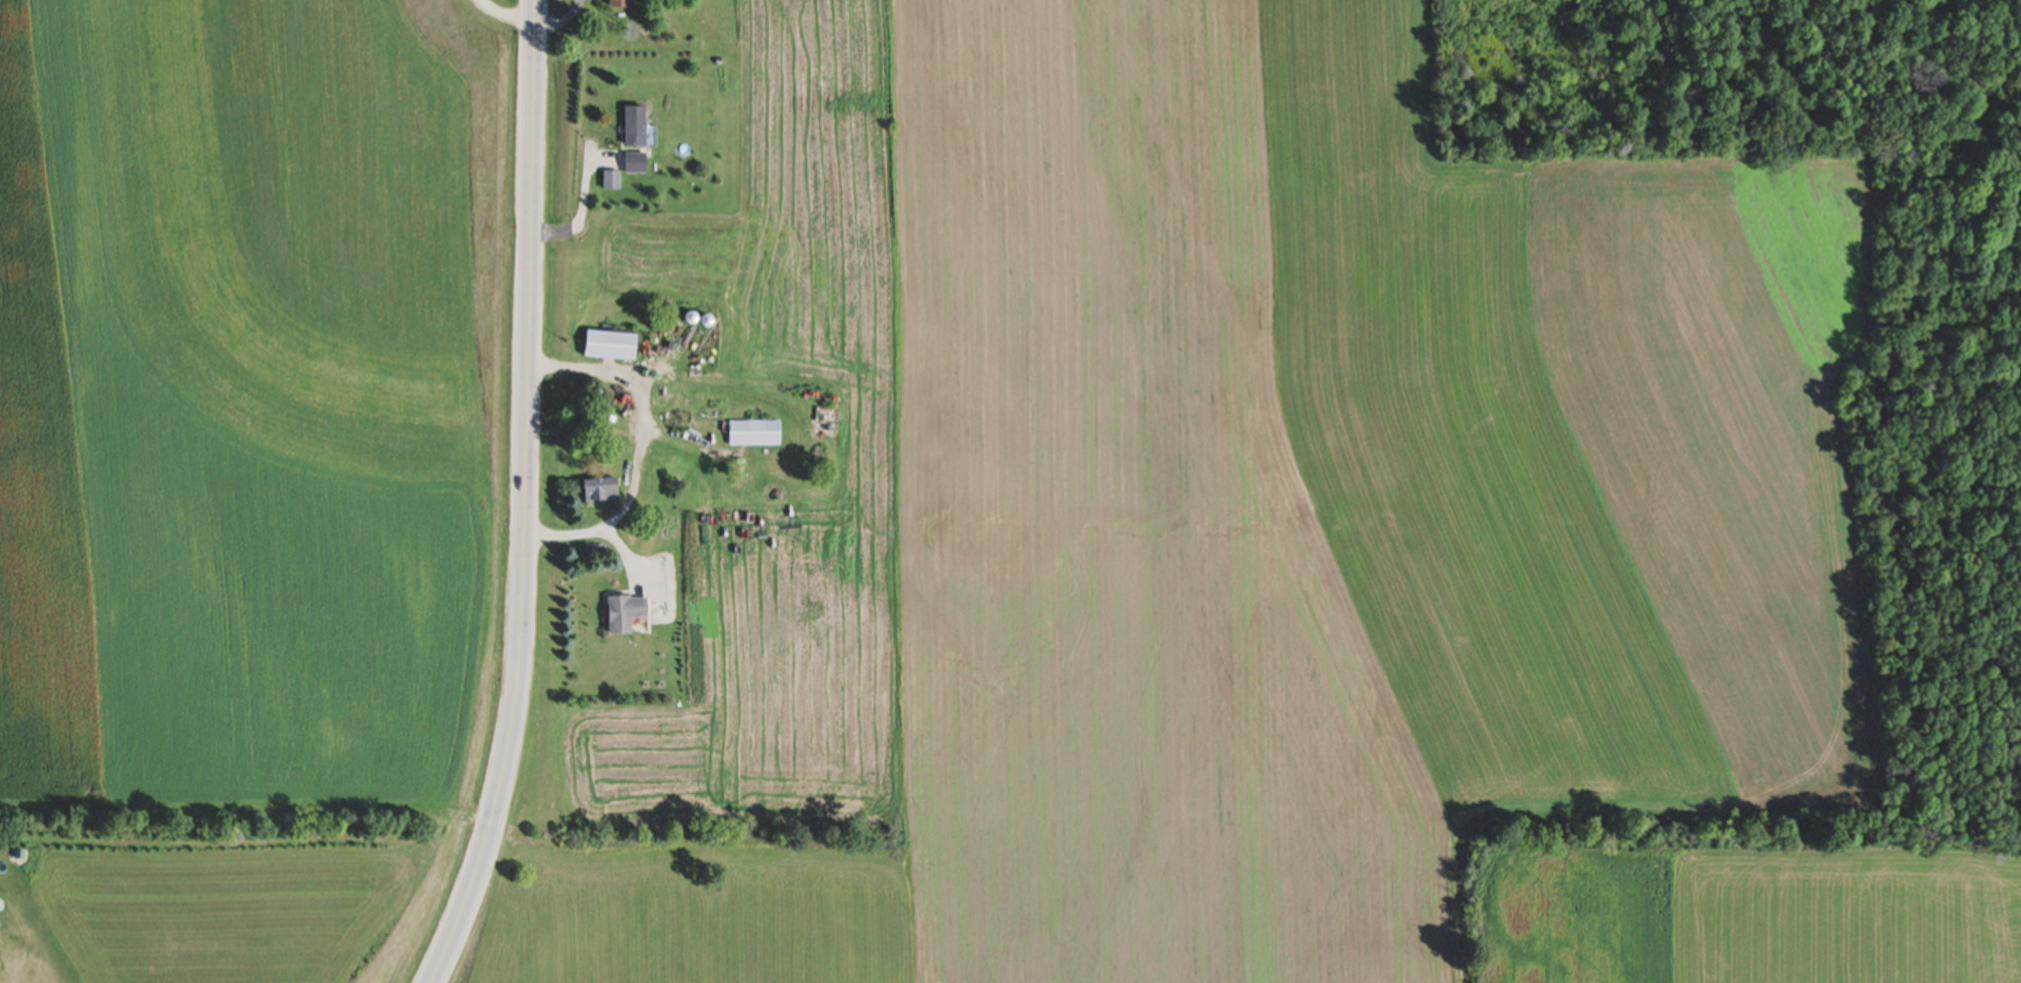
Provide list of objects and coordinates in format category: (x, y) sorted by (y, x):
building: (624, 4)
road: (512, 8)
building: (639, 127)
building: (638, 163)
road: (580, 207)
building: (694, 318)
building: (614, 345)
building: (757, 432)
road: (640, 449)
building: (605, 490)
road: (526, 498)
building: (630, 613)

